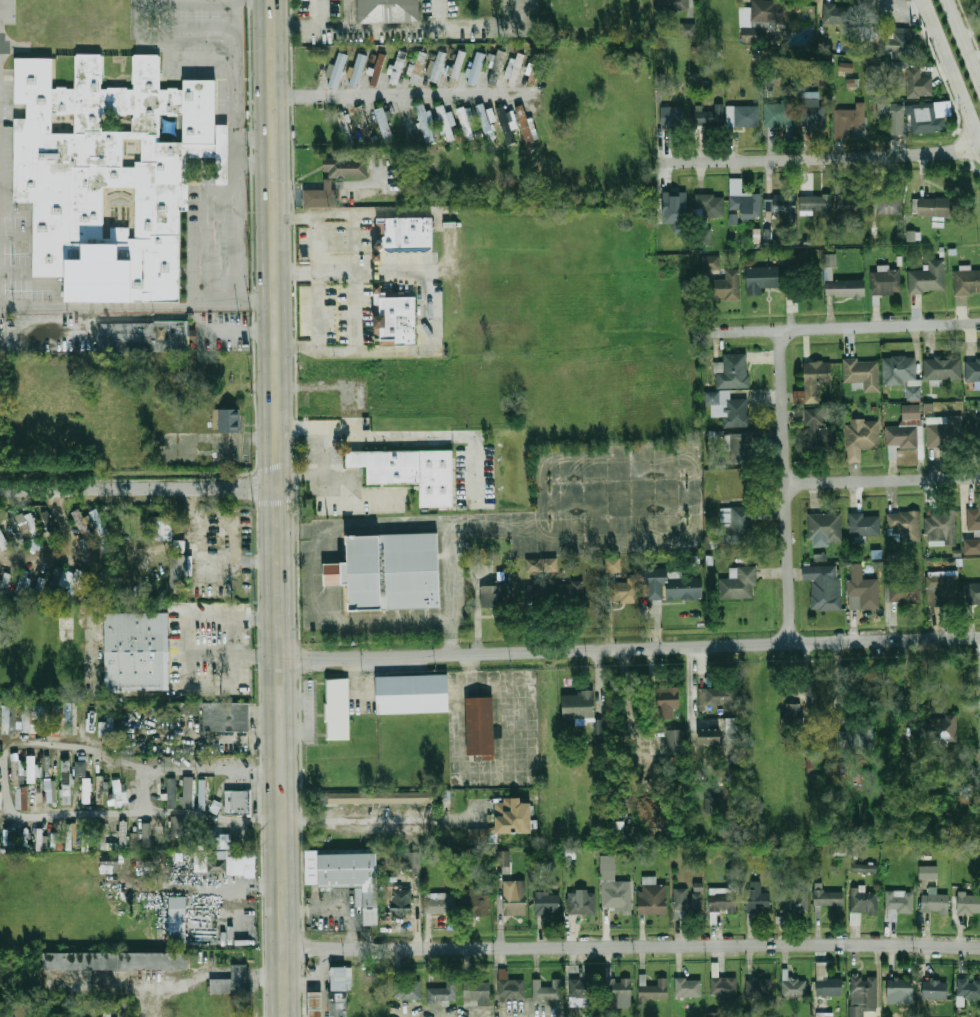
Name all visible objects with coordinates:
building: (672, 5)
building: (389, 11)
building: (771, 12)
road: (438, 13)
building: (838, 14)
road: (133, 15)
building: (867, 20)
road: (297, 26)
road: (416, 27)
building: (687, 29)
road: (181, 31)
building: (754, 35)
road: (963, 42)
building: (899, 43)
building: (457, 63)
building: (437, 66)
building: (846, 66)
building: (475, 67)
building: (494, 67)
building: (376, 68)
building: (395, 68)
building: (513, 68)
building: (356, 69)
building: (335, 70)
building: (415, 70)
road: (953, 71)
building: (918, 84)
road: (402, 94)
building: (710, 113)
building: (778, 114)
building: (813, 114)
building: (743, 115)
building: (850, 115)
building: (891, 115)
building: (485, 116)
building: (673, 117)
building: (923, 118)
building: (361, 119)
building: (465, 120)
building: (424, 121)
building: (445, 122)
building: (383, 123)
building: (505, 125)
building: (526, 127)
road: (253, 137)
road: (820, 158)
road: (254, 163)
road: (234, 165)
building: (347, 167)
building: (103, 176)
building: (329, 183)
road: (295, 186)
building: (319, 196)
building: (742, 201)
building: (815, 201)
building: (780, 204)
building: (848, 204)
building: (887, 204)
building: (710, 205)
building: (674, 206)
building: (932, 207)
building: (403, 234)
building: (913, 235)
building: (704, 237)
parking lot: (339, 241)
road: (234, 247)
building: (409, 249)
building: (711, 262)
road: (435, 268)
road: (353, 271)
building: (927, 277)
building: (763, 278)
road: (317, 280)
building: (966, 281)
building: (885, 283)
building: (725, 286)
building: (844, 288)
road: (117, 305)
parking lot: (338, 312)
parking lot: (231, 319)
building: (395, 320)
road: (849, 328)
road: (239, 331)
building: (144, 335)
parking lot: (220, 341)
building: (942, 368)
building: (972, 369)
building: (731, 371)
building: (817, 373)
building: (862, 374)
building: (902, 374)
road: (350, 403)
building: (727, 407)
building: (911, 412)
building: (227, 421)
building: (975, 430)
building: (818, 431)
building: (947, 431)
building: (901, 437)
building: (861, 438)
building: (741, 443)
building: (357, 459)
road: (615, 461)
building: (395, 467)
road: (322, 468)
road: (337, 473)
road: (150, 479)
road: (882, 481)
road: (785, 487)
road: (138, 488)
road: (360, 496)
road: (616, 497)
parking lot: (616, 499)
road: (692, 499)
road: (541, 500)
road: (278, 508)
building: (973, 520)
building: (97, 521)
road: (410, 523)
building: (27, 524)
building: (737, 525)
building: (864, 525)
building: (903, 525)
building: (940, 525)
building: (49, 526)
building: (82, 526)
building: (14, 527)
building: (161, 528)
building: (824, 528)
road: (618, 537)
building: (3, 541)
building: (178, 545)
building: (972, 546)
building: (820, 557)
building: (612, 564)
building: (533, 565)
building: (179, 571)
building: (393, 571)
building: (333, 574)
building: (65, 577)
building: (4, 582)
building: (38, 582)
building: (738, 584)
building: (21, 585)
building: (823, 586)
building: (669, 587)
building: (943, 589)
building: (862, 590)
building: (624, 592)
building: (903, 592)
building: (973, 593)
building: (574, 594)
building: (491, 596)
road: (629, 648)
road: (97, 649)
building: (135, 652)
road: (232, 654)
road: (183, 663)
road: (690, 686)
building: (414, 695)
building: (719, 698)
road: (302, 701)
building: (665, 702)
building: (577, 706)
building: (340, 709)
building: (8, 717)
building: (70, 717)
building: (227, 717)
building: (33, 718)
building: (55, 718)
building: (789, 718)
building: (89, 723)
building: (106, 725)
building: (731, 726)
building: (480, 727)
building: (939, 728)
building: (708, 736)
building: (855, 737)
road: (236, 738)
building: (674, 743)
building: (810, 763)
building: (32, 766)
road: (213, 766)
building: (15, 768)
building: (79, 768)
road: (3, 774)
building: (65, 781)
building: (101, 784)
road: (145, 789)
building: (50, 790)
building: (85, 790)
building: (187, 791)
building: (170, 792)
building: (117, 793)
building: (966, 793)
building: (201, 794)
building: (0, 797)
building: (20, 798)
building: (379, 799)
building: (238, 802)
building: (214, 806)
building: (710, 806)
road: (187, 811)
road: (255, 818)
road: (384, 819)
building: (504, 821)
building: (177, 825)
building: (122, 833)
building: (146, 835)
building: (8, 836)
building: (68, 836)
building: (39, 838)
building: (133, 838)
building: (836, 849)
building: (572, 857)
building: (144, 859)
building: (505, 860)
building: (199, 861)
building: (108, 862)
building: (412, 862)
building: (234, 863)
building: (866, 870)
building: (533, 874)
building: (348, 875)
building: (929, 875)
building: (614, 887)
building: (725, 895)
building: (757, 897)
building: (651, 898)
building: (516, 899)
building: (688, 900)
building: (793, 900)
building: (830, 900)
building: (402, 901)
building: (476, 902)
building: (548, 902)
building: (582, 902)
building: (897, 903)
building: (935, 903)
building: (969, 903)
building: (863, 904)
building: (440, 905)
building: (178, 919)
road: (631, 946)
building: (115, 959)
road: (240, 972)
road: (265, 973)
building: (231, 980)
building: (827, 981)
road: (144, 984)
building: (792, 985)
building: (723, 986)
building: (759, 986)
building: (510, 987)
building: (688, 987)
building: (968, 988)
building: (935, 989)
building: (339, 990)
building: (408, 990)
building: (619, 990)
building: (656, 990)
building: (545, 991)
building: (901, 991)
building: (479, 993)
building: (583, 993)
building: (443, 994)
building: (863, 994)
building: (314, 1004)
building: (106, 1014)
building: (714, 1014)
building: (823, 1014)

